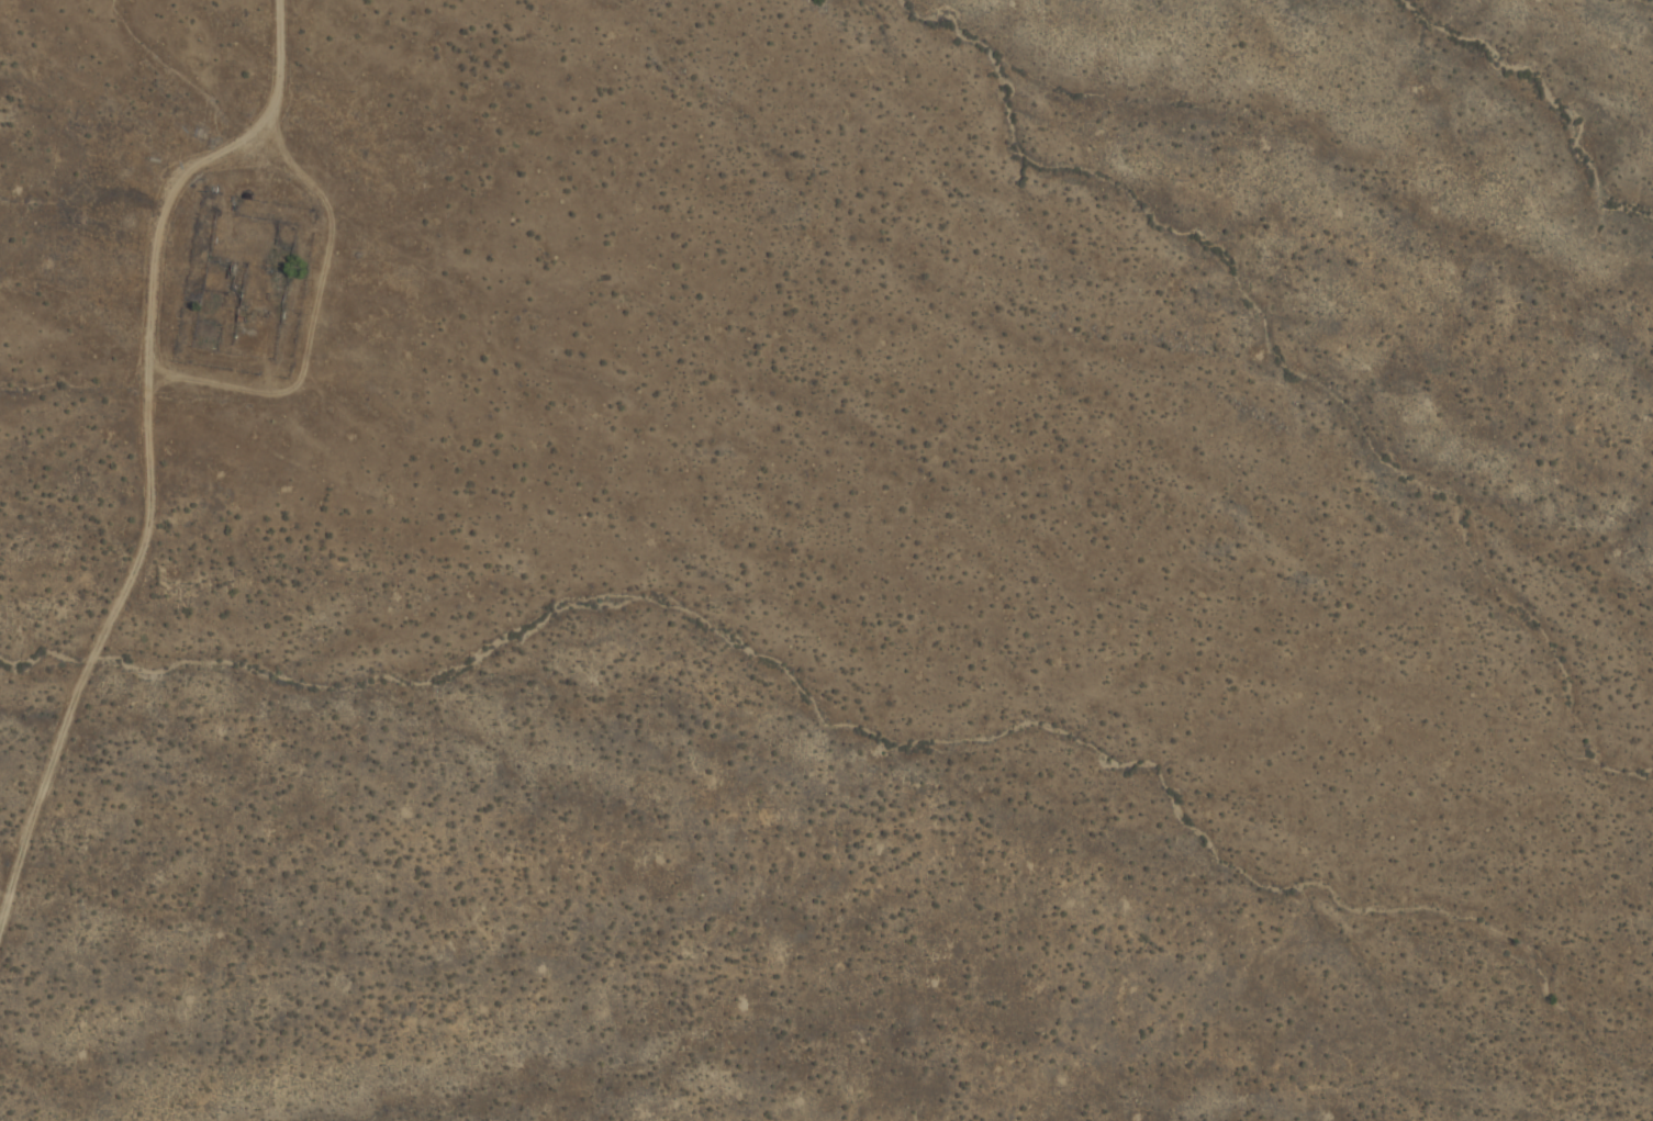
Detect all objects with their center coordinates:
road: (144, 438)

